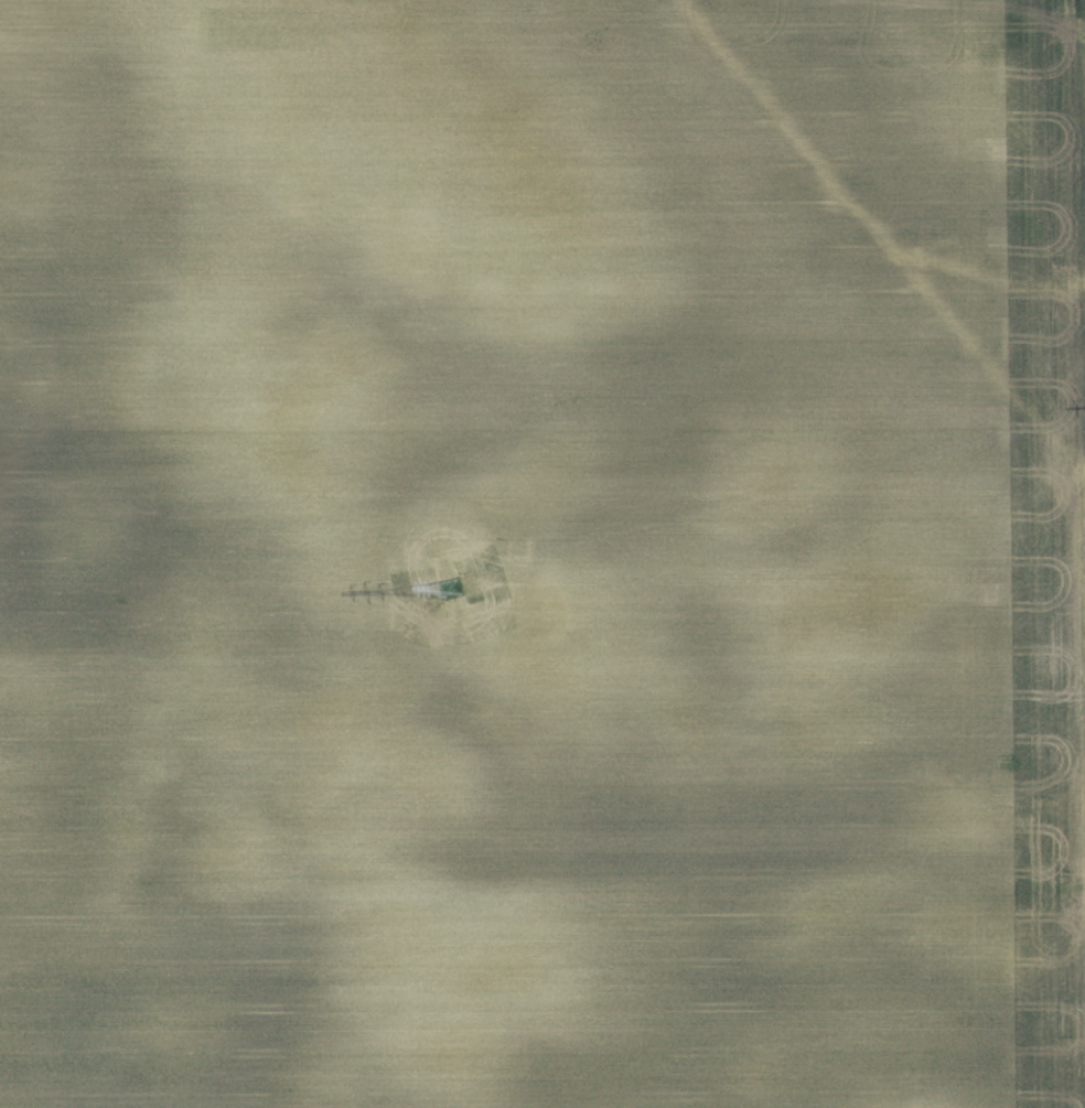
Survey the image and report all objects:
power tower: (449, 587)

